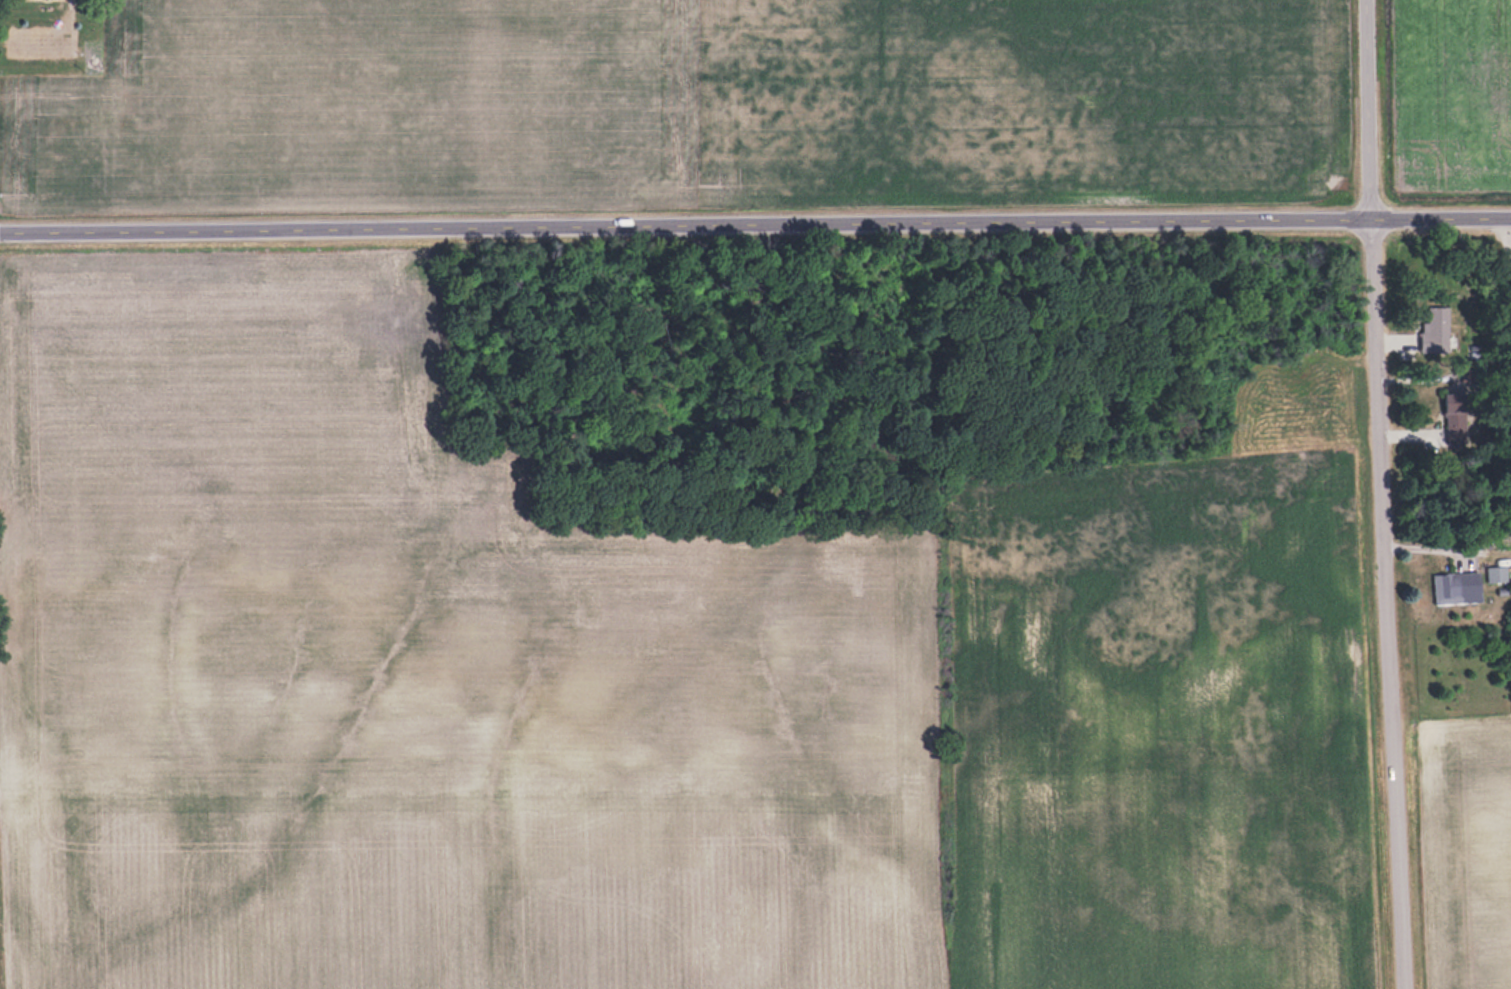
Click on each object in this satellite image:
road: (755, 231)
building: (1437, 327)
road: (1384, 494)
building: (1496, 573)
building: (1447, 588)

